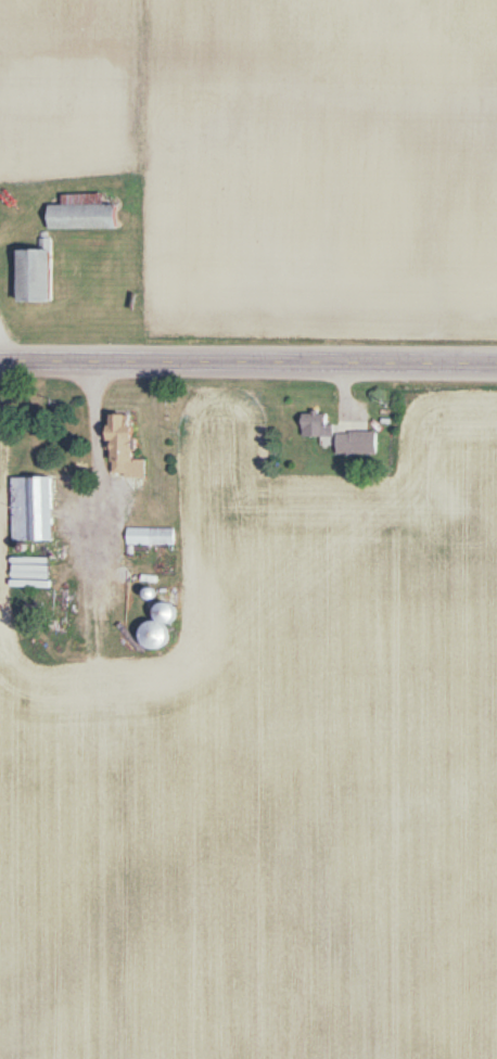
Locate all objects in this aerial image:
building: (78, 215)
building: (29, 278)
road: (248, 366)
building: (311, 426)
building: (352, 445)
building: (117, 451)
building: (26, 511)
building: (148, 637)

